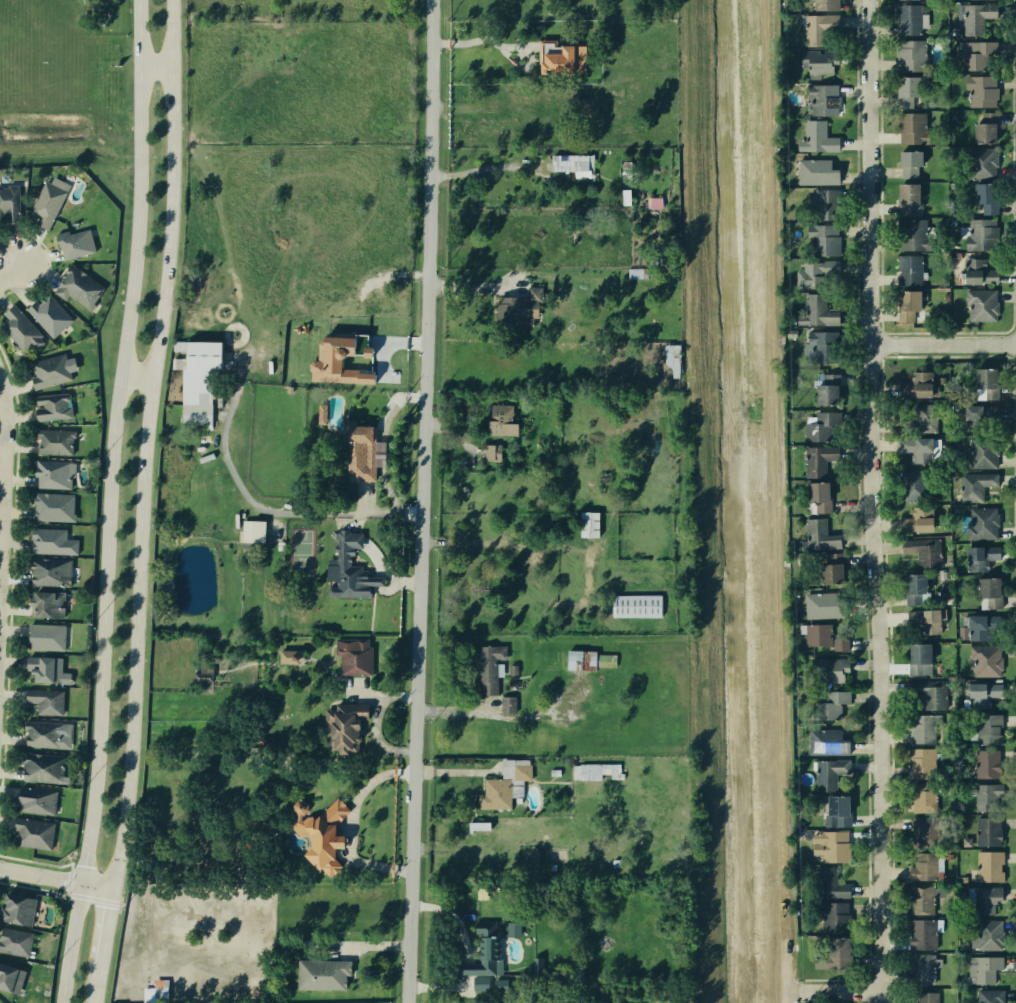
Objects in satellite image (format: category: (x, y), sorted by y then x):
building: (816, 5)
building: (975, 19)
building: (907, 20)
building: (816, 31)
road: (479, 42)
building: (909, 56)
building: (977, 56)
building: (560, 57)
building: (813, 64)
building: (906, 89)
building: (979, 92)
building: (820, 99)
building: (910, 127)
building: (981, 132)
building: (817, 136)
building: (977, 160)
building: (569, 163)
building: (911, 163)
road: (484, 168)
building: (817, 172)
building: (625, 196)
building: (908, 197)
building: (983, 199)
building: (9, 202)
building: (47, 203)
building: (824, 203)
building: (980, 233)
building: (909, 234)
building: (826, 238)
building: (74, 244)
road: (49, 263)
building: (906, 270)
building: (975, 270)
building: (816, 272)
road: (10, 273)
building: (637, 273)
building: (79, 288)
building: (905, 305)
building: (978, 305)
building: (814, 310)
building: (49, 313)
building: (514, 313)
building: (19, 329)
road: (946, 343)
building: (816, 345)
building: (676, 359)
building: (341, 360)
building: (375, 365)
building: (50, 369)
road: (136, 372)
building: (195, 382)
building: (914, 384)
building: (986, 384)
building: (822, 393)
building: (50, 405)
building: (981, 416)
building: (499, 419)
building: (914, 420)
street lamp: (14, 425)
building: (821, 428)
building: (52, 441)
road: (2, 445)
road: (144, 445)
building: (913, 446)
building: (979, 451)
building: (491, 453)
building: (354, 454)
building: (814, 461)
building: (51, 473)
building: (914, 485)
building: (978, 486)
building: (812, 497)
road: (427, 501)
road: (878, 501)
road: (108, 502)
building: (52, 506)
road: (266, 510)
building: (978, 522)
building: (914, 523)
building: (585, 524)
building: (253, 531)
building: (817, 536)
building: (50, 539)
building: (921, 551)
building: (980, 556)
road: (12, 565)
building: (346, 565)
building: (832, 570)
building: (47, 571)
building: (912, 589)
building: (985, 591)
building: (45, 602)
building: (821, 603)
building: (633, 606)
street lamp: (6, 618)
building: (922, 621)
building: (980, 626)
building: (44, 635)
building: (813, 636)
building: (841, 643)
building: (292, 656)
building: (351, 656)
building: (916, 659)
building: (589, 660)
building: (983, 662)
building: (486, 666)
building: (45, 667)
building: (511, 669)
building: (830, 670)
building: (203, 675)
building: (980, 694)
building: (925, 697)
building: (43, 699)
building: (829, 705)
building: (507, 707)
building: (342, 726)
building: (916, 727)
building: (983, 727)
building: (44, 733)
building: (827, 742)
building: (270, 744)
building: (917, 762)
building: (984, 762)
building: (40, 766)
building: (594, 772)
building: (829, 773)
building: (519, 774)
building: (492, 793)
building: (919, 796)
building: (985, 798)
building: (33, 799)
building: (839, 810)
road: (350, 824)
building: (30, 831)
building: (920, 831)
building: (986, 831)
building: (316, 832)
building: (834, 847)
road: (35, 861)
road: (70, 866)
building: (920, 867)
building: (987, 867)
road: (55, 879)
road: (69, 881)
street lamp: (33, 884)
building: (829, 885)
road: (35, 888)
road: (65, 894)
road: (93, 898)
building: (985, 899)
building: (919, 900)
road: (119, 904)
building: (19, 910)
building: (831, 916)
building: (514, 929)
road: (104, 933)
building: (921, 933)
building: (984, 936)
building: (16, 942)
building: (477, 951)
building: (831, 953)
building: (921, 967)
building: (980, 968)
building: (320, 973)
building: (579, 977)
building: (11, 978)
building: (481, 983)
building: (501, 985)
road: (96, 989)
road: (849, 989)
building: (156, 992)
building: (987, 996)
building: (922, 997)

